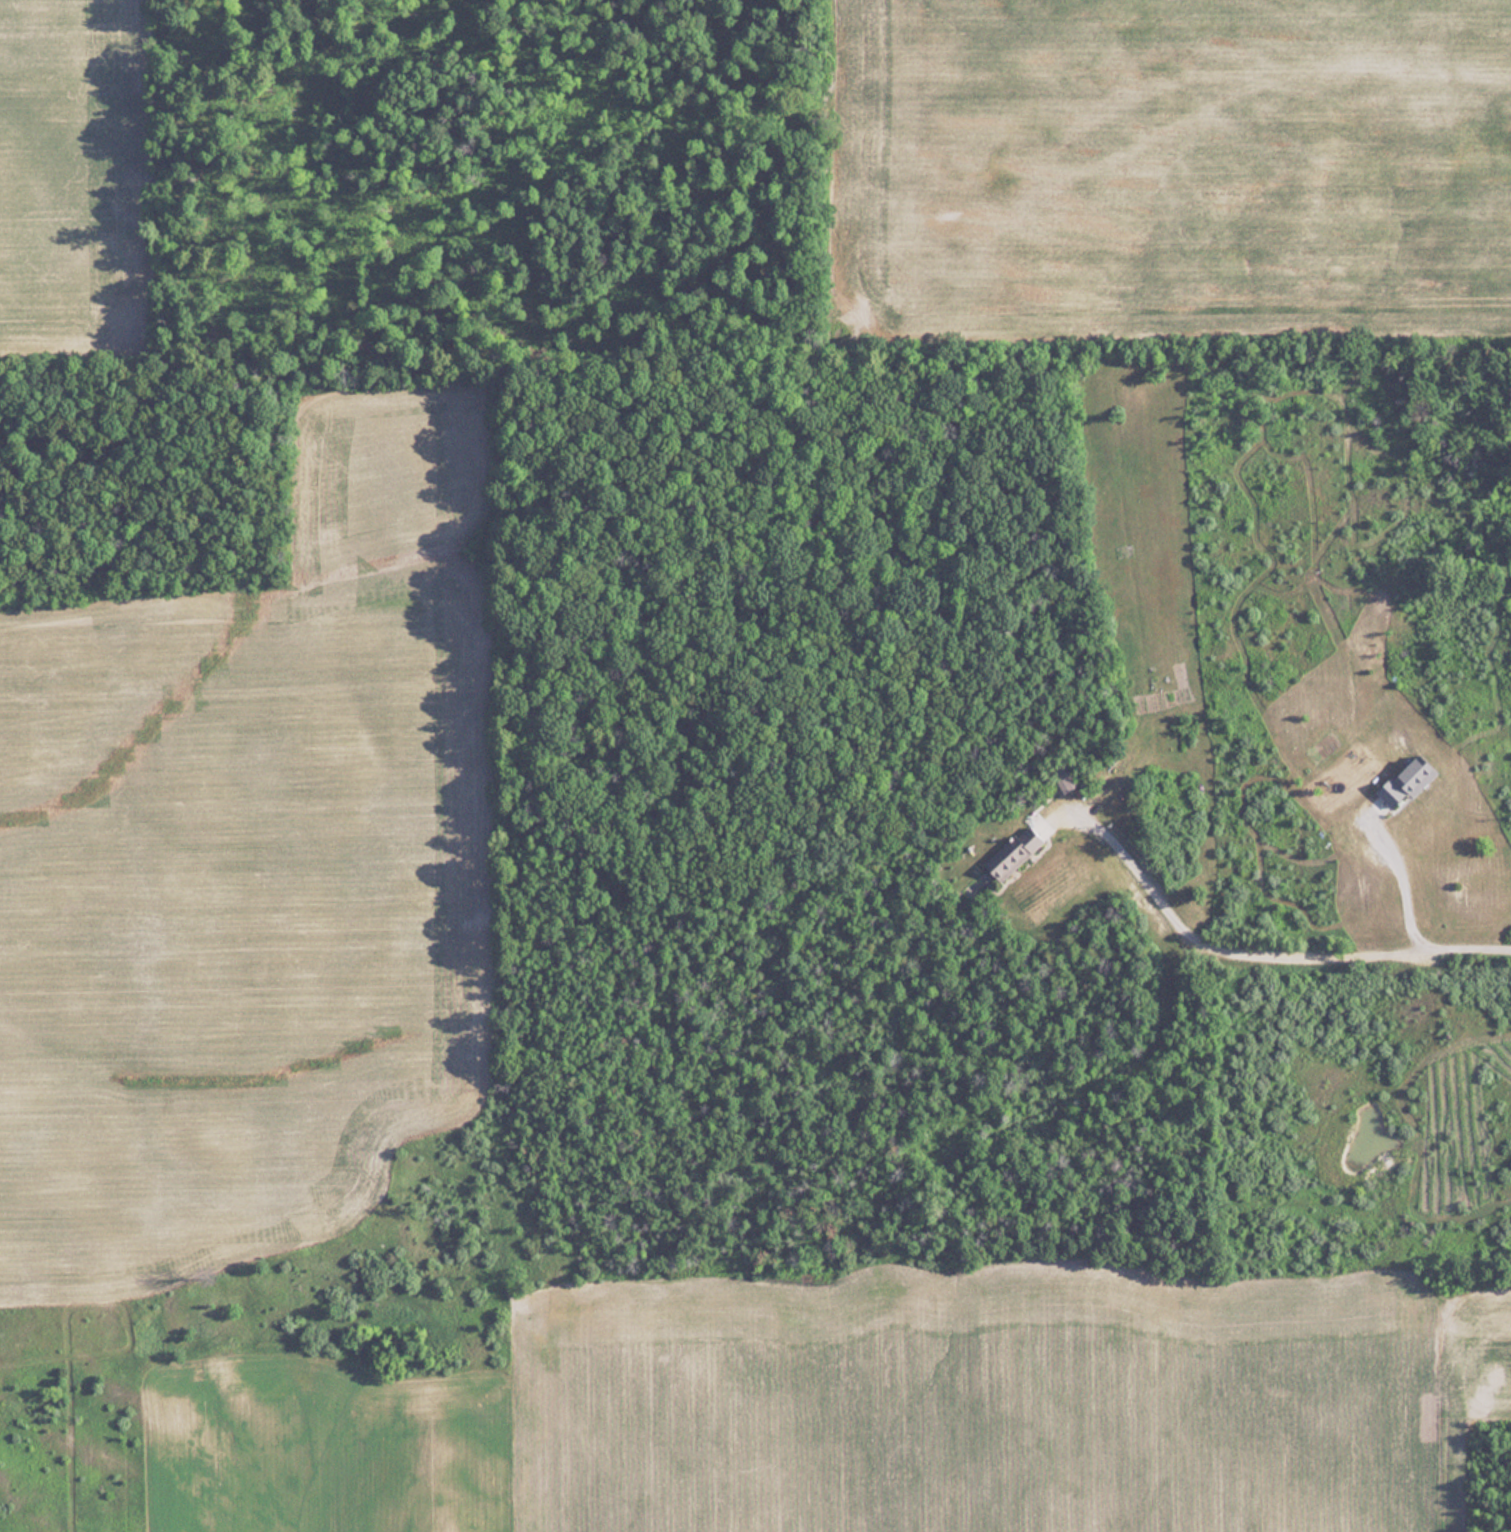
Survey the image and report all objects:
building: (1061, 778)
building: (1408, 782)
building: (1015, 851)
road: (1406, 874)
road: (1268, 941)

